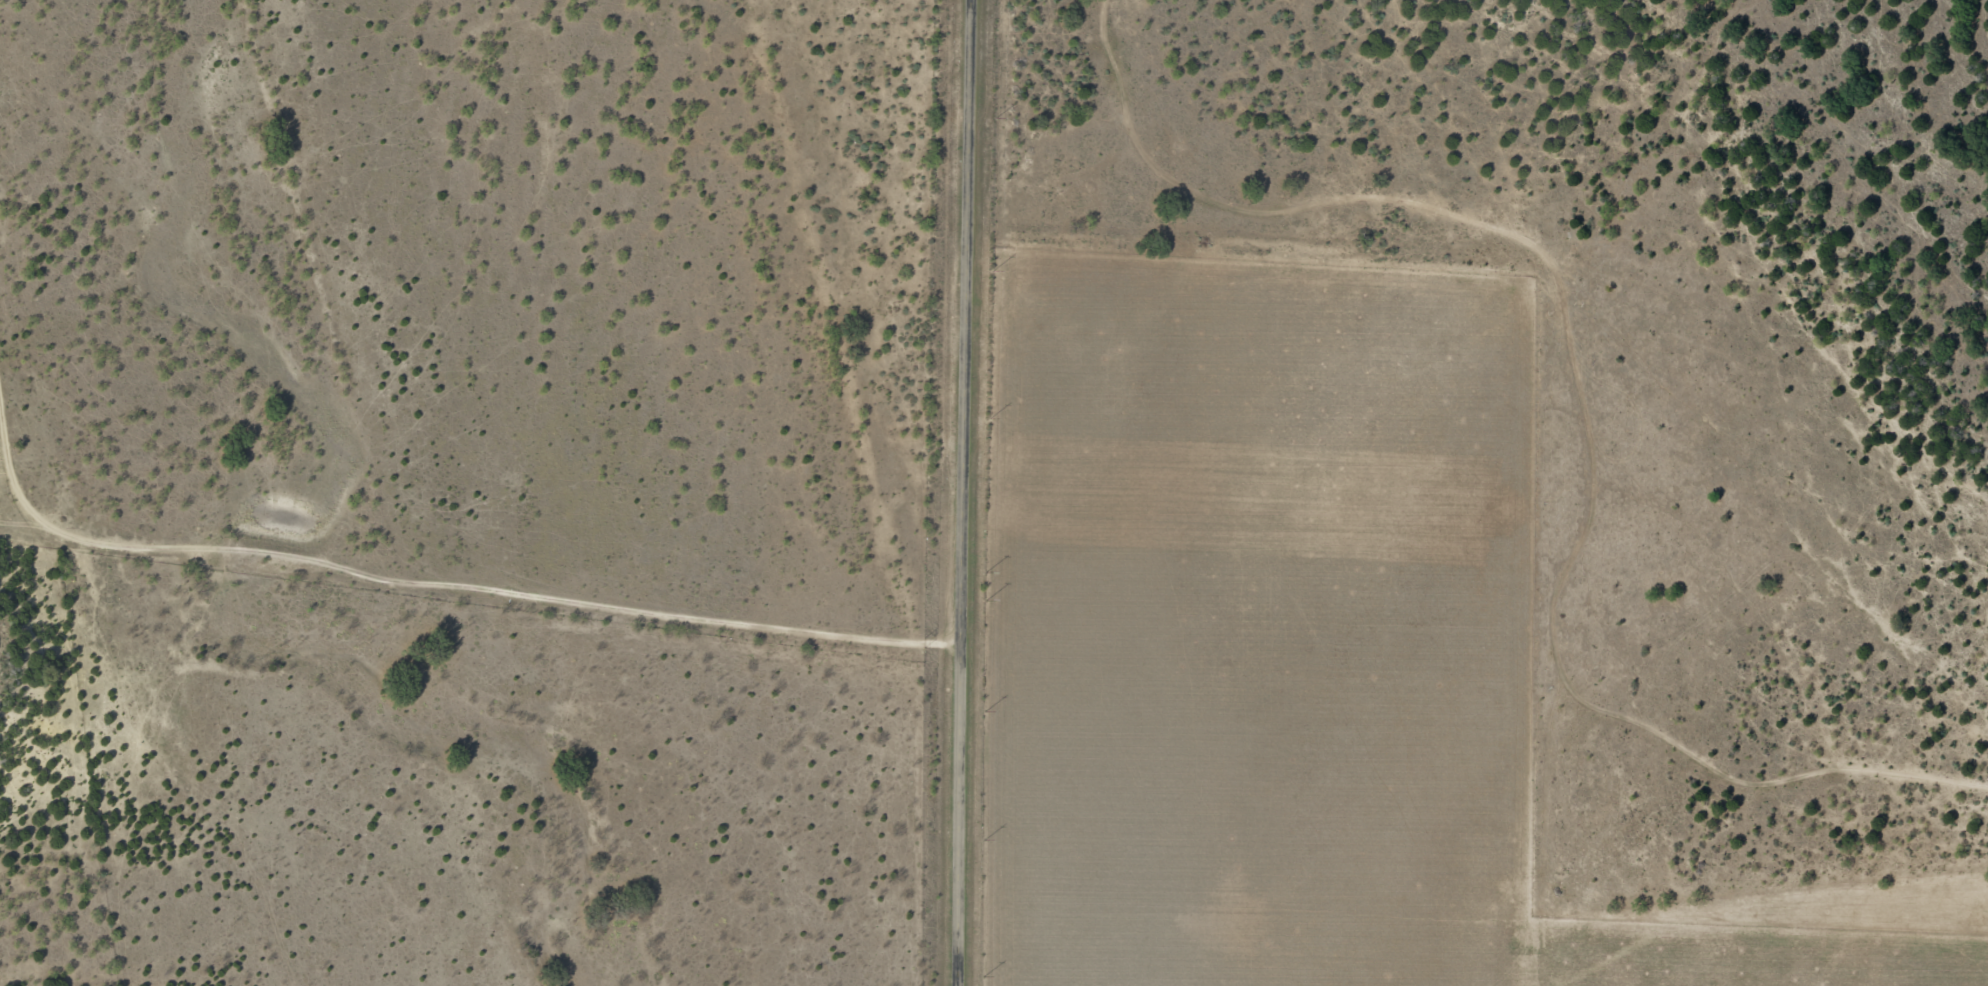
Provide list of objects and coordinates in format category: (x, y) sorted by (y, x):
road: (966, 492)

